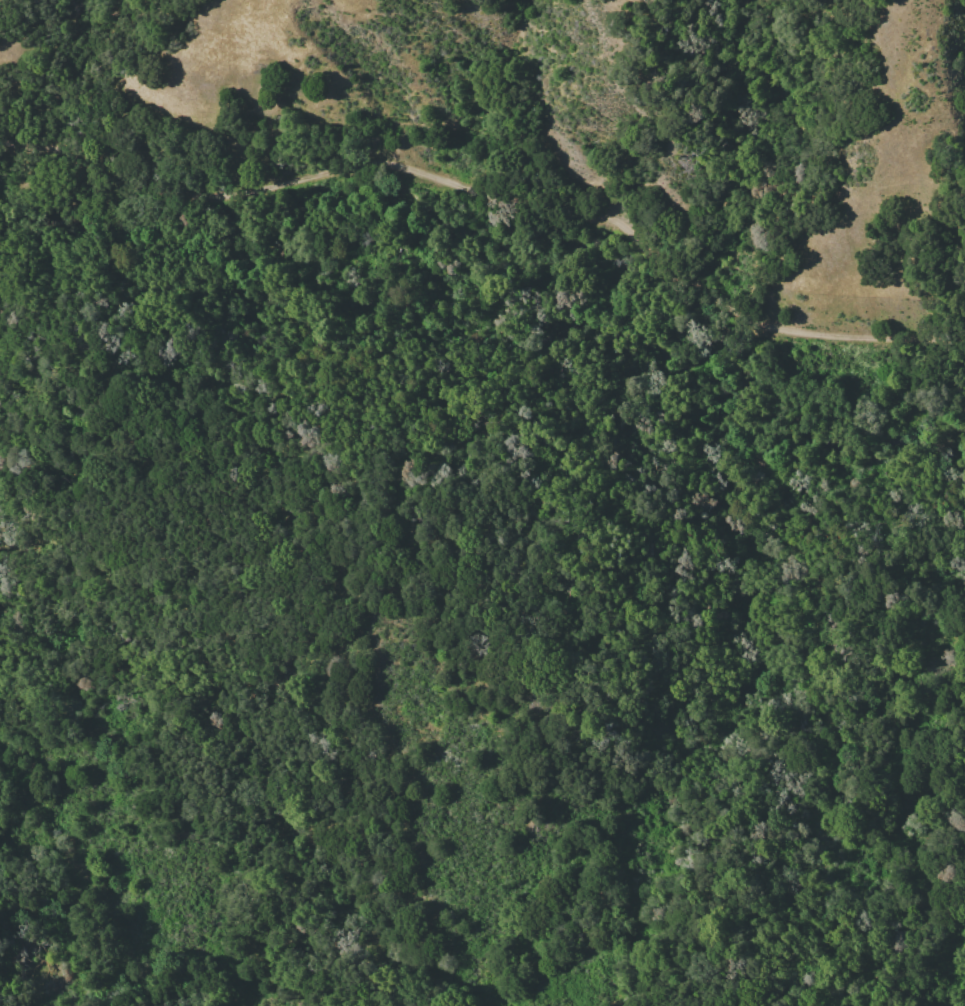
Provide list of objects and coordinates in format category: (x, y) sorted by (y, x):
road: (485, 195)
road: (946, 352)

